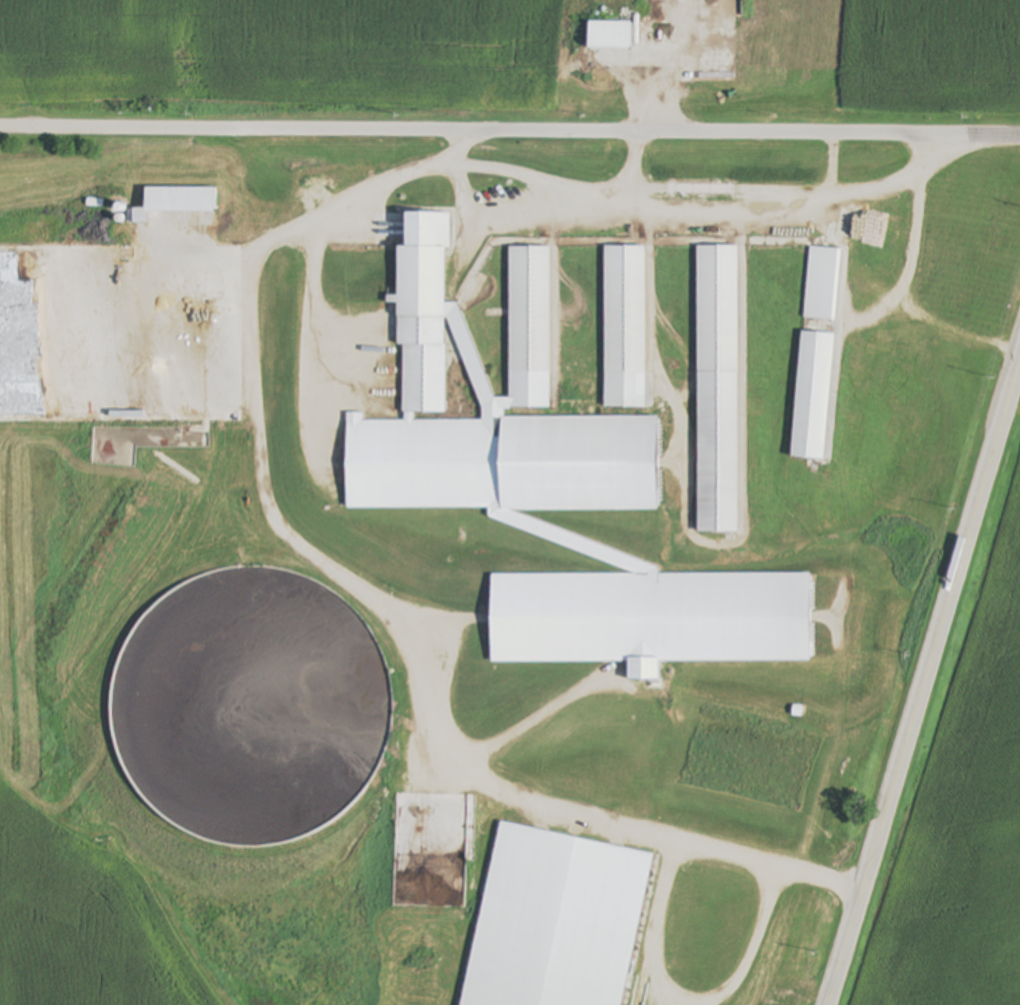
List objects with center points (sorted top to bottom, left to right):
building: (611, 35)
road: (509, 135)
road: (830, 163)
road: (546, 180)
road: (788, 187)
building: (873, 229)
building: (823, 284)
road: (905, 295)
building: (626, 309)
building: (530, 310)
building: (424, 328)
building: (719, 389)
building: (814, 396)
building: (560, 464)
road: (359, 593)
road: (929, 686)
building: (659, 914)
road: (682, 999)

